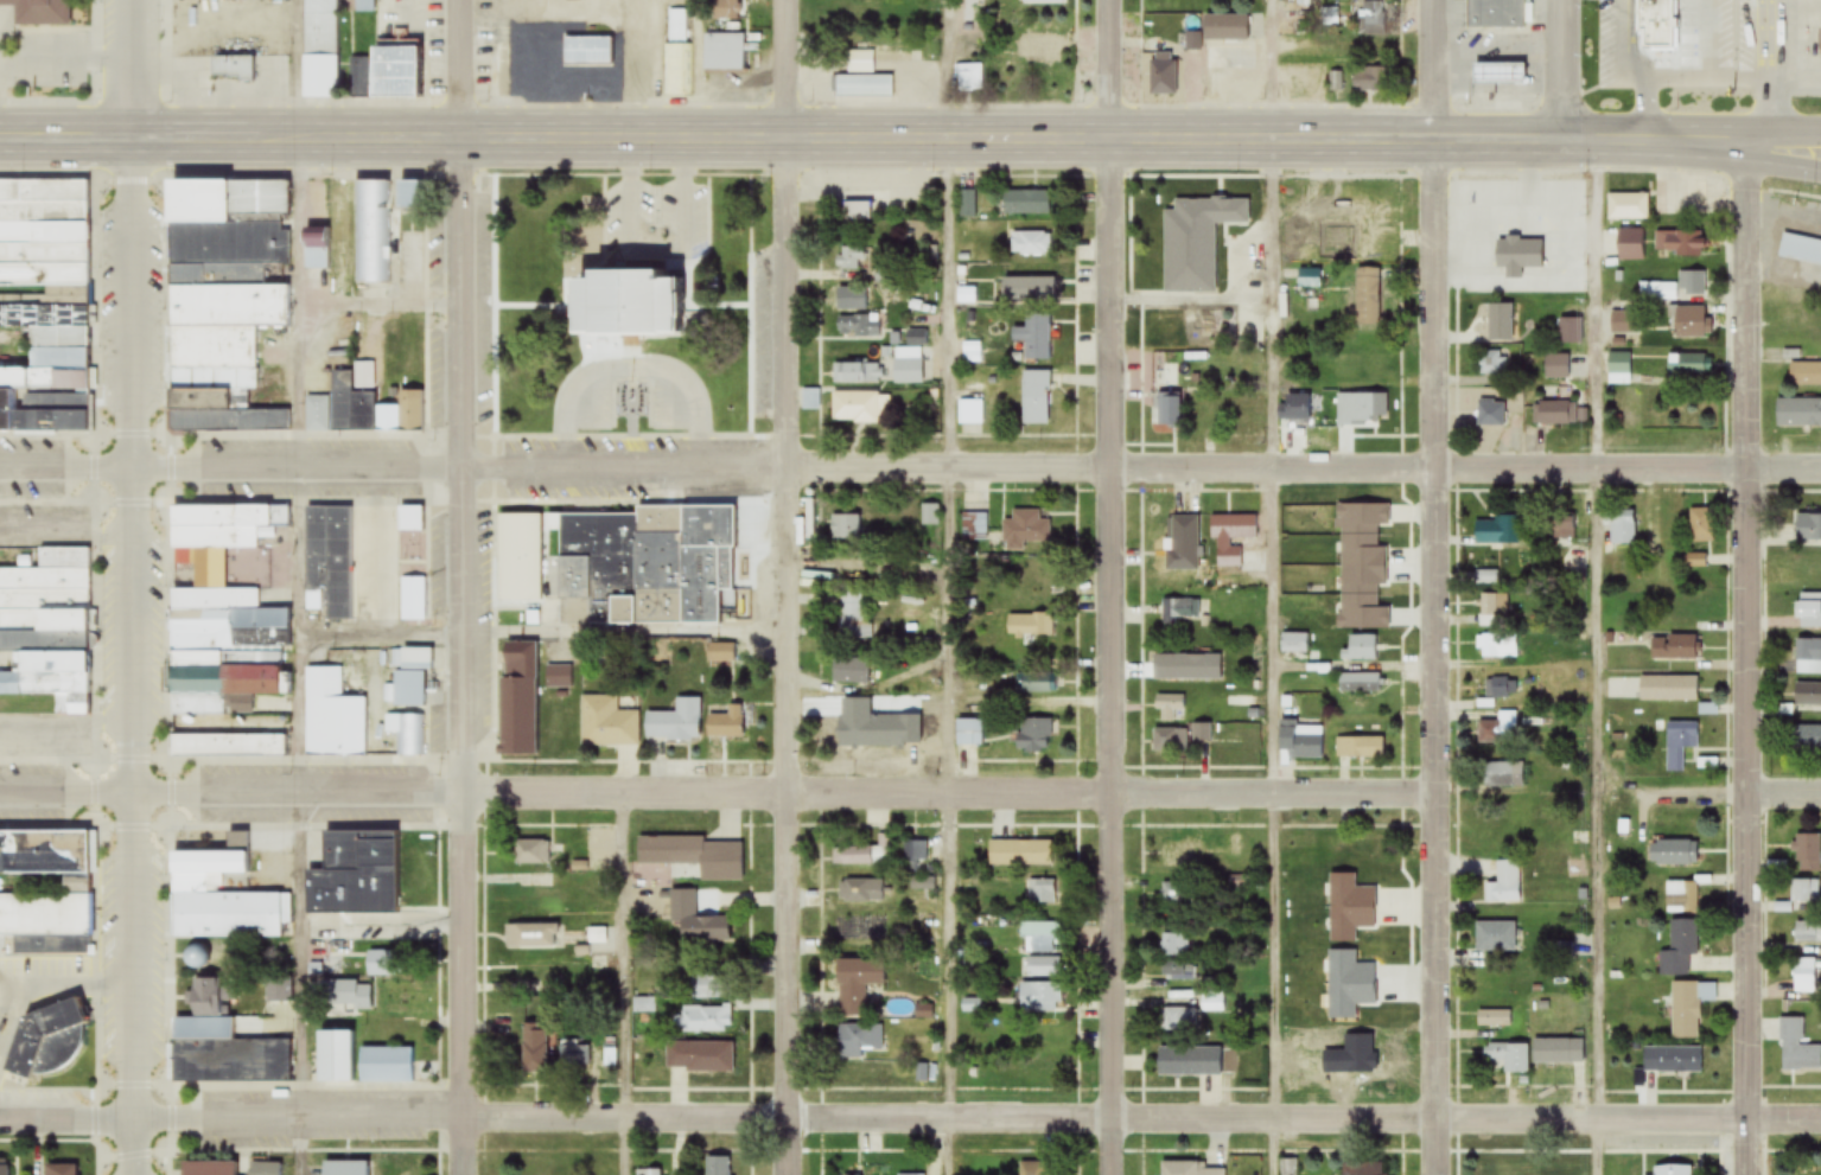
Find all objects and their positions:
building: (1043, 1)
building: (726, 9)
building: (39, 12)
building: (1497, 14)
building: (1370, 19)
building: (1654, 23)
building: (1225, 27)
building: (1039, 45)
building: (319, 49)
building: (587, 52)
building: (722, 53)
building: (677, 56)
road: (1272, 70)
road: (1565, 71)
building: (384, 74)
building: (1164, 74)
road: (1770, 74)
building: (638, 75)
building: (1498, 75)
building: (492, 77)
building: (969, 77)
building: (1005, 77)
building: (1304, 81)
building: (1369, 81)
building: (865, 87)
road: (1693, 139)
road: (66, 140)
traffic signals: (134, 140)
road: (849, 141)
building: (406, 194)
building: (1532, 196)
building: (1026, 203)
road: (656, 204)
building: (969, 204)
building: (1230, 207)
building: (1628, 207)
building: (858, 211)
building: (1367, 211)
building: (1565, 215)
building: (373, 232)
building: (1369, 242)
building: (1679, 243)
building: (1030, 244)
building: (1504, 247)
building: (316, 249)
building: (1616, 249)
building: (1801, 250)
building: (1303, 251)
building: (1172, 254)
building: (849, 258)
building: (1311, 277)
building: (1533, 277)
building: (1693, 283)
building: (1027, 289)
building: (1658, 293)
building: (1368, 296)
building: (632, 301)
building: (224, 302)
building: (45, 304)
building: (1502, 323)
building: (1621, 324)
building: (1689, 324)
building: (859, 326)
building: (1571, 332)
building: (916, 337)
building: (1208, 338)
building: (1030, 344)
building: (1494, 363)
building: (909, 365)
building: (1687, 365)
road: (635, 368)
building: (1556, 368)
building: (1619, 369)
building: (857, 372)
building: (1804, 375)
building: (1037, 398)
building: (858, 407)
building: (367, 408)
building: (1299, 408)
building: (1363, 408)
building: (1169, 409)
building: (1631, 409)
building: (970, 411)
building: (1798, 413)
building: (1209, 414)
building: (1492, 414)
building: (1556, 414)
road: (66, 471)
road: (976, 472)
building: (1566, 525)
building: (1663, 525)
building: (975, 526)
building: (1701, 526)
building: (847, 528)
building: (1623, 528)
building: (1808, 528)
building: (1365, 529)
building: (1026, 530)
building: (1509, 530)
building: (1231, 537)
building: (516, 541)
building: (1184, 544)
building: (726, 558)
building: (1695, 561)
building: (330, 562)
building: (622, 568)
building: (849, 568)
building: (1809, 568)
building: (1488, 577)
road: (136, 587)
road: (460, 587)
road: (784, 587)
road: (1100, 587)
road: (1428, 587)
building: (225, 609)
building: (1182, 609)
building: (1495, 609)
building: (1685, 611)
building: (1809, 611)
building: (1360, 612)
building: (852, 614)
building: (1030, 625)
building: (47, 630)
building: (1294, 644)
building: (1497, 647)
building: (1360, 649)
building: (1674, 650)
building: (722, 653)
road: (1596, 657)
building: (1808, 657)
road: (1749, 659)
building: (1186, 668)
building: (851, 671)
building: (412, 678)
building: (560, 678)
building: (1037, 683)
building: (1358, 684)
building: (1502, 689)
building: (1669, 690)
building: (1807, 696)
building: (520, 700)
building: (1170, 708)
building: (333, 717)
building: (676, 723)
building: (609, 724)
building: (728, 724)
building: (1498, 730)
building: (970, 733)
building: (412, 734)
building: (849, 734)
building: (1034, 736)
building: (1807, 740)
building: (1170, 741)
building: (1299, 745)
building: (1680, 745)
building: (228, 746)
building: (1360, 749)
building: (1503, 775)
road: (70, 790)
road: (785, 793)
road: (1785, 794)
building: (1367, 850)
building: (916, 852)
building: (531, 854)
building: (867, 854)
building: (1808, 854)
building: (1673, 855)
building: (1179, 856)
building: (694, 857)
building: (356, 876)
building: (924, 883)
building: (1505, 883)
building: (75, 885)
building: (1370, 886)
building: (861, 892)
building: (1804, 892)
building: (1042, 893)
building: (1174, 895)
building: (219, 898)
building: (533, 898)
building: (1681, 899)
building: (698, 921)
building: (1371, 924)
building: (1807, 932)
building: (530, 937)
building: (597, 938)
building: (1040, 938)
building: (1495, 938)
building: (1176, 946)
building: (1680, 950)
building: (1365, 959)
building: (1043, 968)
building: (1178, 971)
building: (533, 976)
building: (1803, 976)
building: (858, 985)
building: (706, 988)
building: (1039, 997)
building: (1212, 1004)
building: (1689, 1009)
building: (1178, 1020)
building: (1494, 1020)
building: (705, 1021)
building: (1365, 1040)
building: (46, 1041)
building: (860, 1041)
building: (222, 1046)
building: (1797, 1048)
building: (534, 1051)
building: (333, 1056)
building: (575, 1058)
building: (700, 1059)
building: (1507, 1059)
building: (611, 1061)
building: (1673, 1061)
building: (1190, 1062)
building: (386, 1066)
building: (1304, 1067)
building: (1040, 1072)
building: (1363, 1074)
road: (979, 1120)
road: (69, 1124)
building: (719, 1166)
building: (1290, 1167)
building: (210, 1168)
building: (345, 1168)
building: (1036, 1168)
building: (266, 1169)
building: (1362, 1169)
building: (4, 1170)
building: (62, 1170)
building: (1192, 1170)
building: (1491, 1170)
building: (1673, 1170)
building: (1555, 1171)
building: (650, 1173)
building: (911, 1174)

